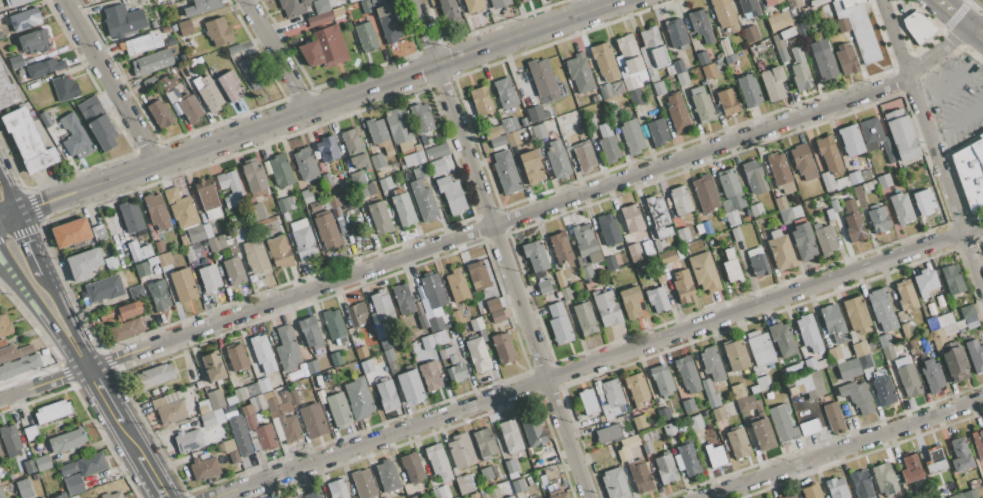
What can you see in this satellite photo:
building: (523, 0)
building: (835, 0)
building: (158, 1)
building: (17, 2)
building: (377, 2)
building: (331, 3)
building: (500, 3)
building: (769, 3)
building: (851, 3)
building: (790, 4)
building: (814, 4)
building: (473, 5)
building: (199, 6)
building: (321, 6)
building: (292, 7)
building: (366, 7)
building: (748, 8)
building: (449, 10)
building: (838, 10)
building: (724, 14)
building: (319, 19)
building: (24, 20)
road: (958, 20)
building: (122, 21)
building: (776, 23)
building: (152, 24)
building: (389, 24)
building: (700, 25)
building: (843, 25)
building: (185, 27)
building: (918, 27)
building: (174, 28)
building: (165, 30)
building: (218, 31)
building: (675, 32)
building: (750, 33)
building: (787, 33)
building: (862, 34)
building: (1, 35)
building: (366, 37)
building: (34, 42)
building: (777, 42)
building: (140, 44)
building: (324, 47)
building: (725, 47)
building: (233, 49)
building: (652, 52)
road: (939, 54)
road: (277, 55)
building: (782, 55)
building: (627, 57)
building: (702, 58)
building: (730, 58)
building: (845, 59)
building: (822, 60)
building: (15, 61)
building: (604, 61)
building: (151, 62)
building: (192, 64)
building: (678, 66)
building: (44, 67)
building: (669, 70)
building: (800, 70)
building: (252, 71)
building: (709, 71)
building: (580, 73)
building: (643, 77)
building: (544, 79)
building: (682, 79)
road: (112, 80)
building: (599, 80)
road: (950, 81)
building: (148, 82)
building: (631, 82)
building: (773, 83)
building: (229, 85)
building: (165, 86)
building: (64, 88)
building: (658, 88)
building: (611, 89)
building: (7, 90)
building: (748, 90)
building: (208, 93)
building: (505, 93)
building: (635, 96)
building: (171, 98)
building: (595, 98)
building: (481, 101)
building: (727, 101)
building: (701, 105)
road: (320, 107)
building: (190, 109)
building: (718, 110)
building: (158, 111)
building: (676, 112)
building: (536, 113)
building: (613, 113)
building: (421, 118)
road: (956, 121)
building: (97, 122)
building: (506, 125)
building: (399, 129)
building: (604, 130)
building: (538, 131)
building: (657, 131)
building: (493, 132)
building: (379, 135)
building: (901, 135)
building: (75, 137)
building: (512, 137)
building: (631, 137)
building: (875, 138)
building: (423, 140)
building: (851, 140)
building: (28, 141)
building: (497, 141)
road: (931, 144)
building: (326, 149)
building: (354, 149)
building: (609, 149)
building: (435, 151)
building: (583, 155)
building: (414, 157)
building: (801, 159)
building: (377, 160)
building: (557, 160)
building: (305, 164)
building: (830, 164)
building: (436, 167)
building: (530, 167)
building: (280, 171)
building: (420, 171)
building: (505, 172)
building: (780, 172)
building: (970, 172)
building: (379, 174)
building: (859, 175)
building: (753, 176)
building: (254, 177)
building: (357, 178)
building: (327, 179)
building: (884, 181)
building: (385, 183)
building: (869, 185)
building: (230, 189)
building: (366, 190)
building: (730, 190)
road: (9, 193)
building: (450, 194)
building: (704, 194)
building: (307, 196)
building: (207, 197)
building: (859, 197)
building: (921, 199)
building: (680, 200)
building: (423, 201)
building: (332, 202)
building: (780, 204)
building: (282, 205)
building: (834, 205)
building: (849, 206)
traffic signals: (36, 207)
building: (314, 207)
building: (402, 208)
building: (901, 208)
building: (181, 209)
building: (756, 210)
building: (796, 210)
road: (9, 211)
building: (155, 211)
building: (257, 211)
building: (829, 214)
building: (284, 215)
building: (337, 215)
building: (785, 215)
building: (657, 216)
road: (9, 217)
building: (130, 217)
building: (378, 217)
building: (631, 217)
building: (732, 218)
building: (878, 219)
building: (236, 222)
building: (706, 227)
building: (854, 227)
building: (699, 228)
building: (608, 229)
building: (326, 230)
building: (207, 231)
traffic signals: (28, 232)
building: (70, 232)
building: (99, 232)
building: (239, 234)
building: (683, 234)
building: (735, 234)
building: (824, 238)
building: (302, 239)
road: (454, 239)
building: (803, 241)
building: (202, 242)
building: (585, 243)
building: (215, 244)
road: (34, 245)
building: (656, 245)
building: (159, 246)
building: (560, 247)
road: (501, 248)
building: (647, 248)
building: (234, 249)
building: (780, 250)
building: (137, 251)
building: (193, 252)
building: (279, 252)
building: (634, 252)
building: (728, 254)
building: (535, 255)
building: (255, 256)
building: (666, 257)
building: (163, 259)
building: (757, 261)
building: (83, 263)
building: (111, 263)
building: (610, 263)
building: (141, 269)
building: (234, 270)
building: (732, 271)
building: (586, 272)
building: (703, 272)
building: (478, 275)
road: (14, 276)
building: (209, 278)
building: (952, 279)
building: (560, 280)
building: (924, 282)
building: (183, 285)
building: (456, 285)
building: (543, 286)
building: (683, 286)
building: (104, 289)
building: (433, 290)
building: (136, 292)
building: (563, 294)
building: (158, 295)
building: (906, 295)
building: (402, 299)
building: (657, 299)
building: (630, 302)
building: (381, 304)
building: (493, 305)
building: (426, 307)
building: (606, 308)
building: (882, 309)
building: (967, 311)
building: (120, 312)
road: (43, 314)
building: (357, 314)
building: (856, 314)
building: (497, 316)
building: (458, 317)
building: (585, 318)
building: (831, 318)
building: (944, 319)
building: (422, 321)
road: (69, 322)
building: (970, 322)
building: (435, 323)
building: (931, 323)
building: (476, 324)
building: (559, 324)
building: (334, 325)
building: (5, 326)
building: (952, 327)
building: (908, 328)
building: (126, 329)
building: (380, 330)
building: (310, 332)
building: (808, 333)
building: (483, 334)
building: (852, 337)
building: (782, 338)
building: (840, 338)
building: (884, 340)
building: (427, 342)
building: (385, 343)
building: (911, 343)
building: (502, 347)
building: (287, 348)
building: (759, 348)
building: (859, 348)
building: (14, 352)
road: (69, 352)
building: (263, 352)
building: (361, 352)
building: (834, 353)
building: (844, 353)
building: (888, 353)
building: (389, 354)
building: (477, 355)
building: (736, 355)
building: (974, 355)
building: (237, 358)
building: (335, 358)
road: (598, 361)
building: (954, 361)
building: (864, 362)
building: (711, 363)
building: (821, 363)
building: (19, 366)
building: (213, 366)
building: (312, 366)
building: (367, 366)
building: (454, 366)
building: (848, 369)
building: (687, 374)
building: (155, 375)
building: (430, 375)
building: (931, 375)
building: (325, 377)
building: (661, 380)
building: (908, 380)
building: (763, 383)
building: (804, 384)
building: (263, 385)
building: (410, 386)
building: (162, 389)
building: (252, 389)
building: (636, 389)
building: (754, 389)
building: (738, 391)
building: (883, 391)
building: (154, 392)
building: (240, 394)
building: (386, 394)
building: (710, 394)
road: (101, 396)
building: (769, 396)
building: (856, 396)
building: (172, 397)
building: (358, 398)
building: (611, 398)
building: (189, 399)
building: (215, 400)
building: (157, 402)
building: (281, 402)
building: (588, 402)
building: (257, 403)
building: (748, 405)
building: (688, 406)
building: (203, 409)
building: (337, 410)
building: (52, 411)
building: (171, 412)
building: (718, 413)
building: (663, 414)
building: (833, 416)
building: (218, 417)
building: (248, 417)
building: (674, 417)
building: (207, 419)
building: (313, 420)
building: (639, 422)
building: (694, 422)
building: (781, 424)
building: (680, 426)
building: (809, 427)
building: (290, 428)
building: (278, 429)
building: (669, 429)
building: (30, 432)
building: (761, 433)
building: (239, 434)
building: (534, 434)
building: (609, 434)
building: (265, 436)
building: (510, 436)
building: (647, 436)
road: (128, 438)
building: (10, 440)
building: (67, 441)
building: (188, 441)
building: (254, 441)
building: (484, 442)
building: (736, 443)
building: (978, 445)
building: (228, 446)
building: (628, 446)
building: (219, 448)
building: (646, 448)
road: (844, 448)
building: (460, 451)
building: (0, 454)
building: (602, 454)
building: (714, 455)
building: (960, 455)
building: (234, 457)
building: (689, 459)
building: (935, 460)
building: (42, 462)
building: (438, 462)
building: (90, 464)
building: (29, 466)
building: (412, 467)
building: (204, 468)
building: (665, 468)
building: (67, 469)
building: (510, 469)
building: (910, 469)
building: (495, 470)
building: (486, 473)
road: (151, 475)
building: (387, 476)
building: (639, 477)
building: (884, 478)
building: (627, 479)
building: (473, 481)
building: (974, 482)
building: (73, 484)
building: (363, 484)
building: (464, 484)
building: (614, 484)
building: (861, 484)
building: (0, 485)
building: (518, 486)
building: (23, 488)
building: (836, 488)
building: (336, 489)
building: (446, 491)
building: (811, 491)
building: (438, 492)
building: (493, 492)
building: (1, 493)
building: (313, 494)
building: (557, 494)
building: (969, 494)
building: (60, 495)
building: (112, 495)
building: (484, 495)
building: (294, 496)
building: (415, 496)
building: (787, 496)
building: (957, 496)
building: (43, 497)
building: (267, 497)
building: (386, 497)
building: (511, 497)
building: (905, 497)

